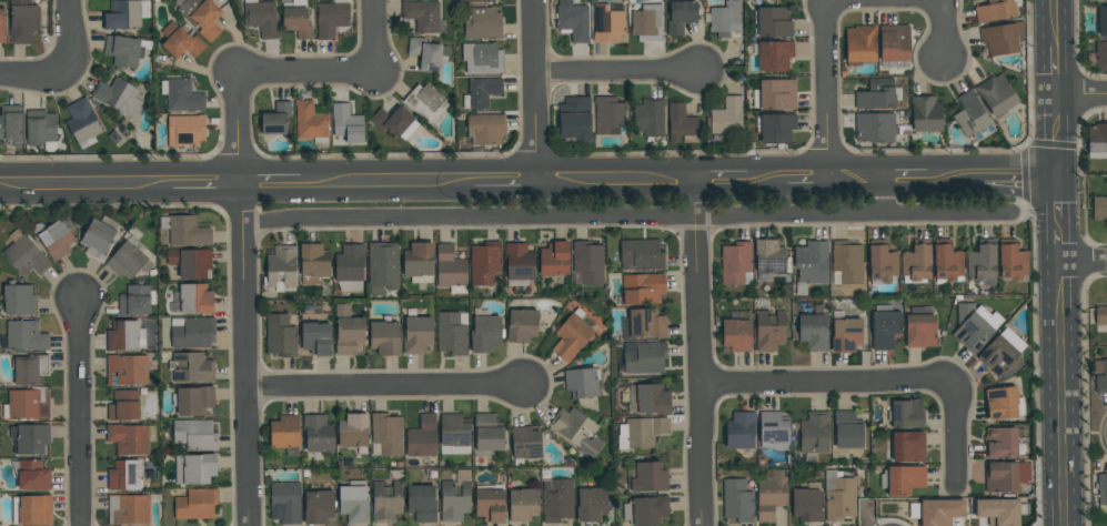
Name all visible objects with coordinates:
building: (1098, 0)
building: (479, 1)
road: (829, 4)
building: (994, 10)
building: (122, 14)
building: (422, 14)
building: (200, 16)
building: (680, 16)
building: (261, 17)
building: (295, 18)
building: (331, 18)
building: (572, 19)
building: (725, 19)
building: (22, 21)
building: (1103, 21)
building: (647, 22)
building: (773, 22)
building: (483, 23)
building: (607, 23)
road: (1053, 23)
building: (2, 26)
road: (378, 37)
building: (1002, 37)
road: (74, 38)
building: (181, 41)
building: (894, 42)
building: (859, 43)
building: (122, 51)
building: (426, 53)
building: (774, 55)
building: (1100, 57)
building: (482, 58)
road: (616, 69)
road: (1055, 71)
road: (309, 73)
road: (34, 75)
road: (533, 89)
building: (481, 92)
building: (775, 94)
building: (876, 94)
building: (996, 94)
building: (118, 95)
building: (181, 95)
road: (1081, 95)
building: (425, 102)
building: (925, 114)
building: (608, 115)
building: (648, 117)
building: (726, 117)
building: (972, 117)
building: (275, 119)
building: (575, 119)
building: (82, 121)
building: (311, 121)
building: (394, 122)
building: (682, 123)
building: (11, 124)
building: (346, 124)
building: (776, 127)
building: (874, 127)
building: (484, 128)
building: (41, 129)
building: (185, 130)
road: (1057, 134)
building: (1097, 141)
road: (1014, 174)
road: (856, 175)
road: (906, 175)
road: (947, 175)
road: (767, 176)
road: (807, 176)
road: (719, 178)
road: (612, 179)
road: (503, 180)
road: (388, 181)
road: (207, 182)
road: (271, 182)
road: (87, 183)
road: (885, 195)
road: (1058, 195)
building: (1099, 208)
road: (625, 215)
road: (1059, 223)
building: (188, 231)
building: (57, 240)
building: (99, 240)
road: (1059, 245)
building: (641, 254)
building: (27, 256)
building: (768, 256)
building: (554, 259)
road: (1084, 260)
building: (129, 261)
building: (1012, 261)
building: (419, 262)
building: (846, 262)
building: (916, 262)
building: (946, 262)
building: (191, 263)
building: (484, 263)
building: (519, 263)
building: (587, 263)
building: (735, 263)
building: (982, 263)
building: (313, 264)
building: (811, 264)
building: (882, 264)
building: (350, 266)
building: (382, 266)
building: (282, 267)
building: (450, 270)
building: (642, 289)
road: (245, 299)
building: (194, 300)
building: (20, 301)
building: (135, 301)
building: (1100, 315)
building: (646, 323)
building: (522, 325)
building: (974, 325)
building: (884, 326)
building: (920, 327)
building: (769, 330)
building: (813, 330)
building: (484, 331)
building: (736, 331)
building: (193, 332)
building: (452, 333)
building: (845, 333)
building: (349, 334)
building: (416, 334)
building: (124, 335)
building: (280, 335)
building: (571, 335)
building: (27, 336)
building: (315, 337)
building: (384, 338)
road: (697, 352)
building: (1003, 353)
building: (644, 357)
building: (192, 367)
building: (31, 370)
building: (128, 371)
building: (1100, 375)
building: (581, 382)
road: (879, 382)
road: (388, 383)
road: (1063, 393)
building: (647, 398)
building: (194, 399)
building: (1003, 403)
building: (29, 404)
building: (125, 406)
road: (79, 412)
building: (906, 413)
building: (739, 429)
building: (847, 429)
building: (576, 431)
building: (773, 431)
building: (284, 432)
building: (353, 432)
building: (641, 432)
building: (814, 432)
building: (487, 433)
building: (318, 434)
building: (453, 434)
building: (385, 435)
building: (194, 436)
building: (422, 436)
building: (30, 438)
building: (130, 438)
building: (999, 442)
building: (525, 444)
building: (907, 446)
building: (195, 468)
building: (33, 475)
building: (125, 476)
building: (1005, 476)
building: (648, 477)
building: (902, 479)
building: (1101, 488)
building: (771, 494)
building: (839, 496)
building: (455, 498)
building: (556, 499)
building: (353, 500)
building: (385, 500)
building: (737, 500)
building: (284, 502)
building: (198, 503)
building: (421, 503)
building: (490, 503)
building: (806, 503)
building: (522, 504)
building: (591, 504)
building: (318, 506)
building: (129, 509)
building: (645, 509)
building: (36, 510)
building: (936, 512)
building: (998, 512)

